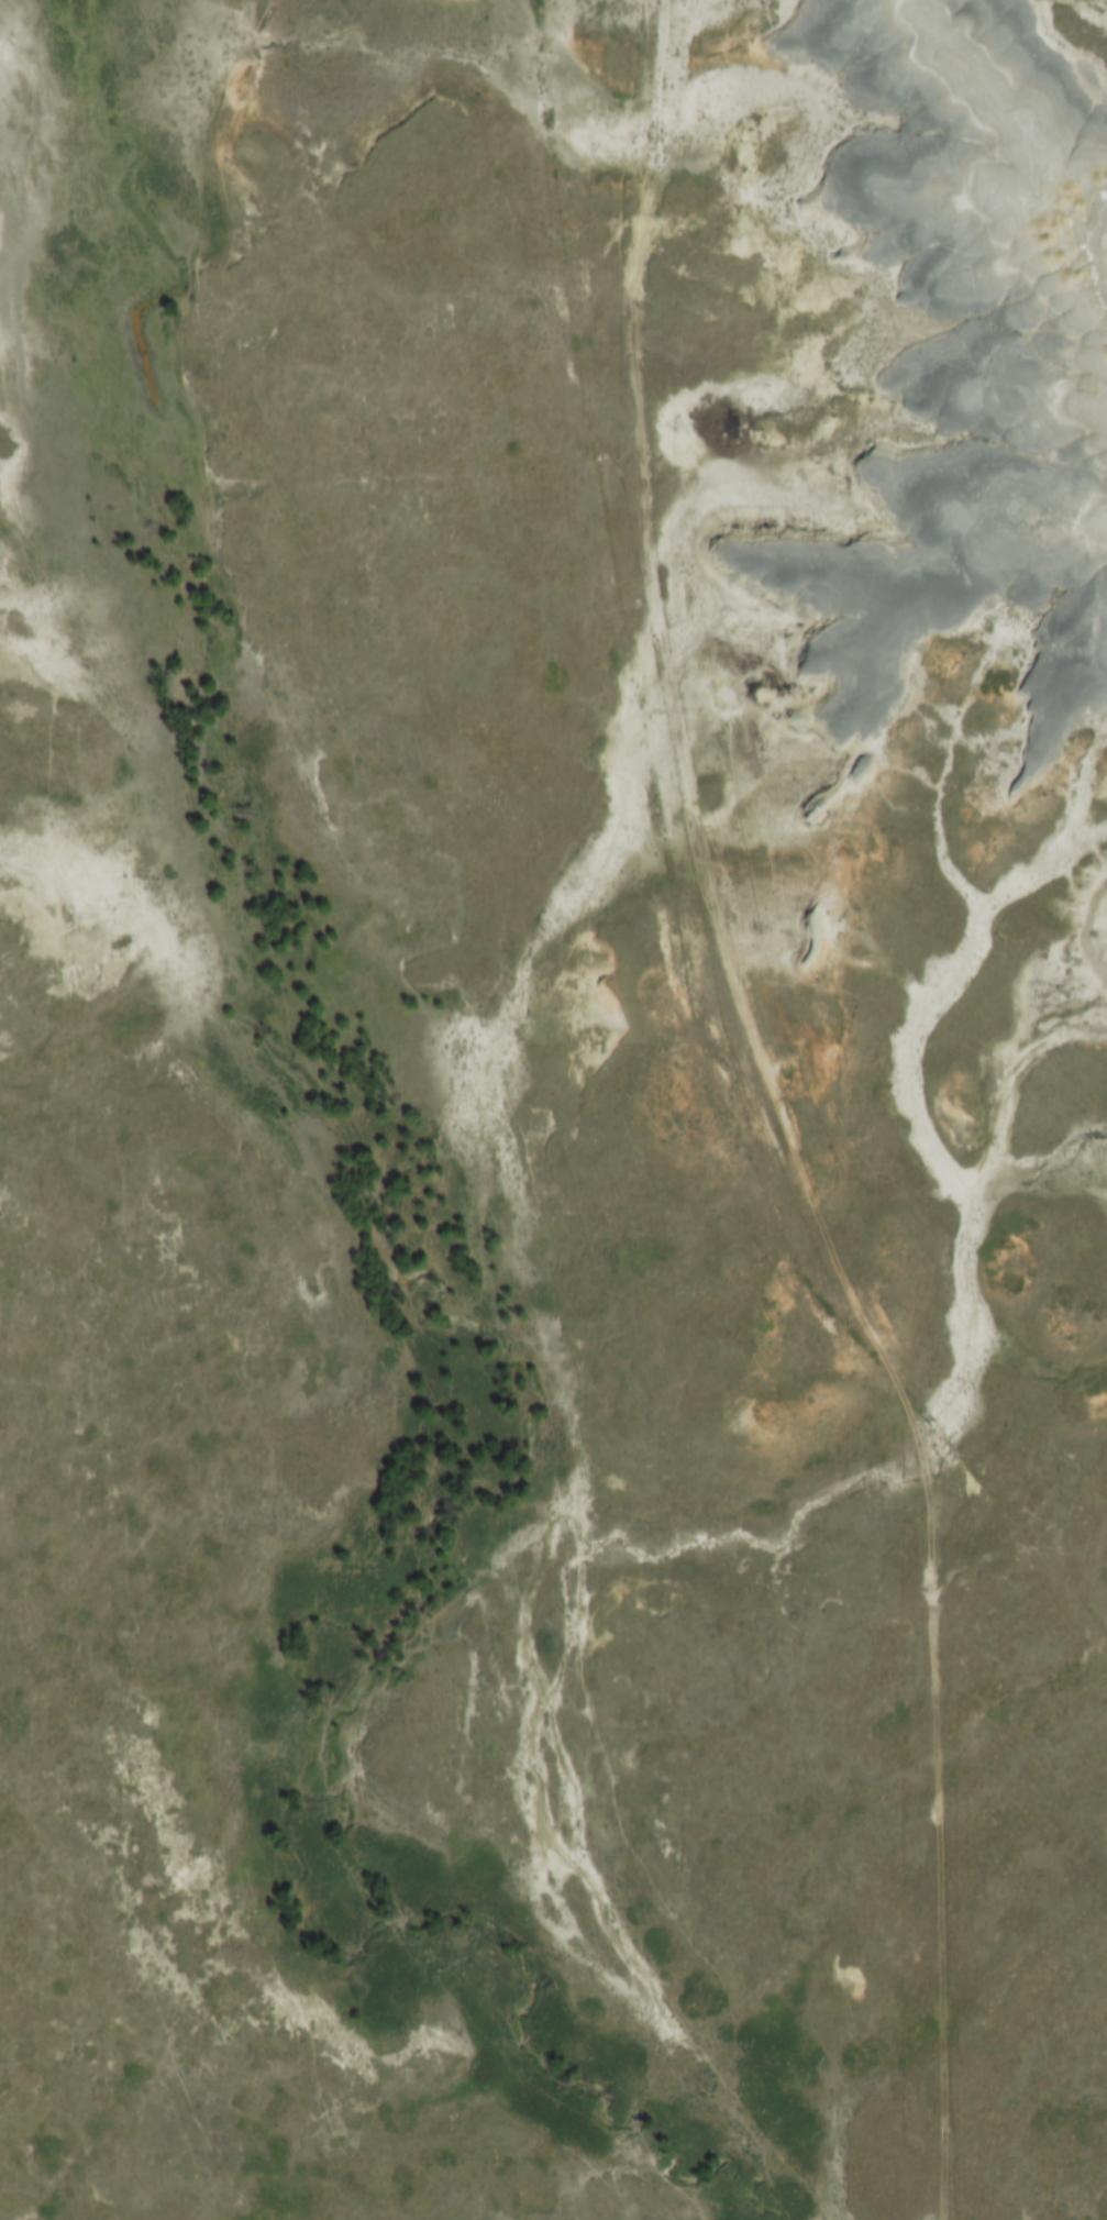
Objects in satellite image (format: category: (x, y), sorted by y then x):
road: (781, 1114)

